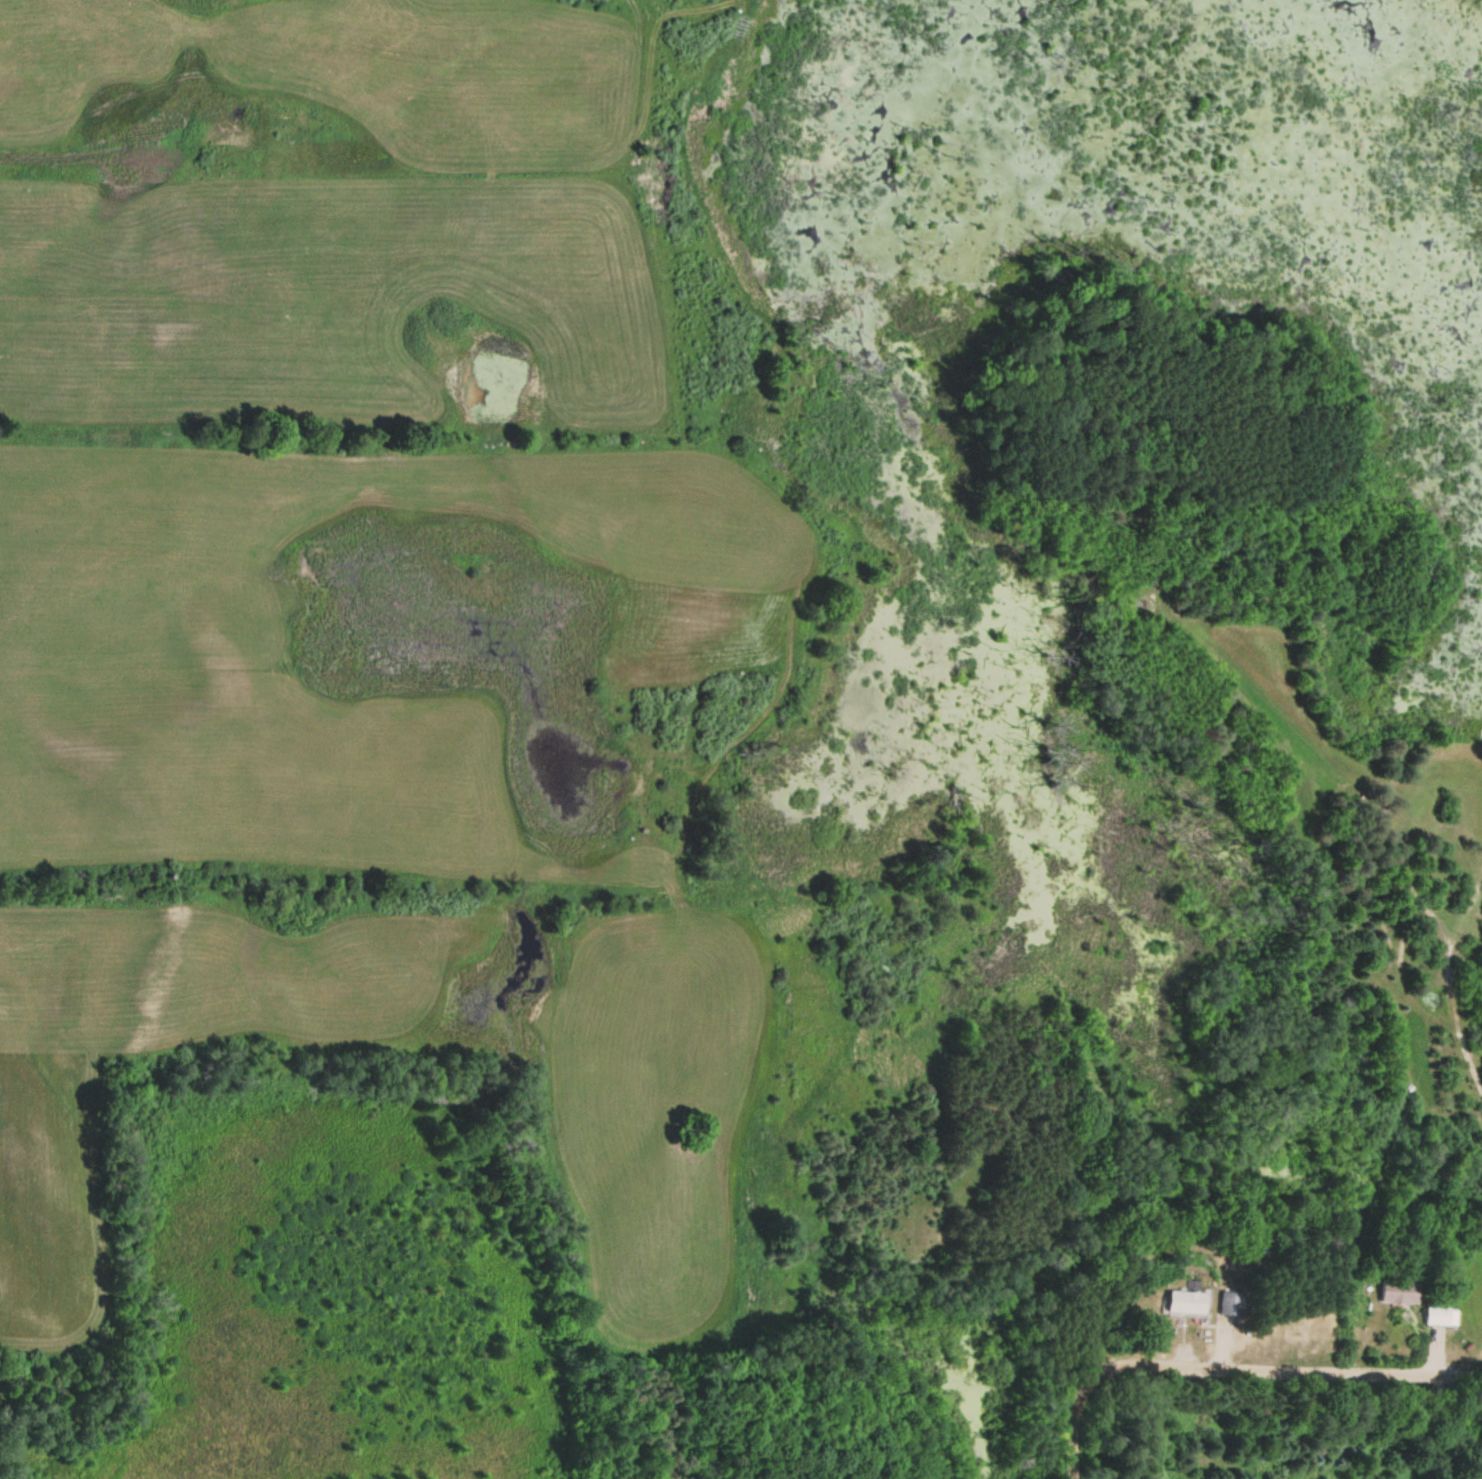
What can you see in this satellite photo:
building: (1397, 1290)
building: (1187, 1302)
building: (1230, 1304)
building: (1435, 1314)
road: (1282, 1376)
road: (1082, 1426)

